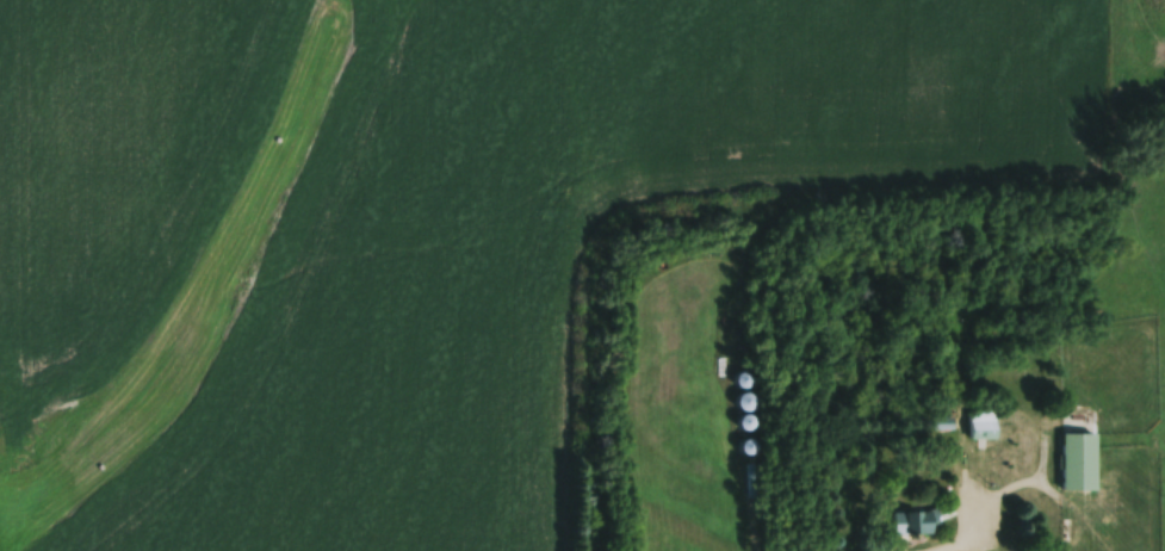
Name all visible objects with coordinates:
building: (943, 429)
building: (981, 429)
building: (1161, 446)
building: (1079, 465)
building: (912, 526)
road: (941, 546)

